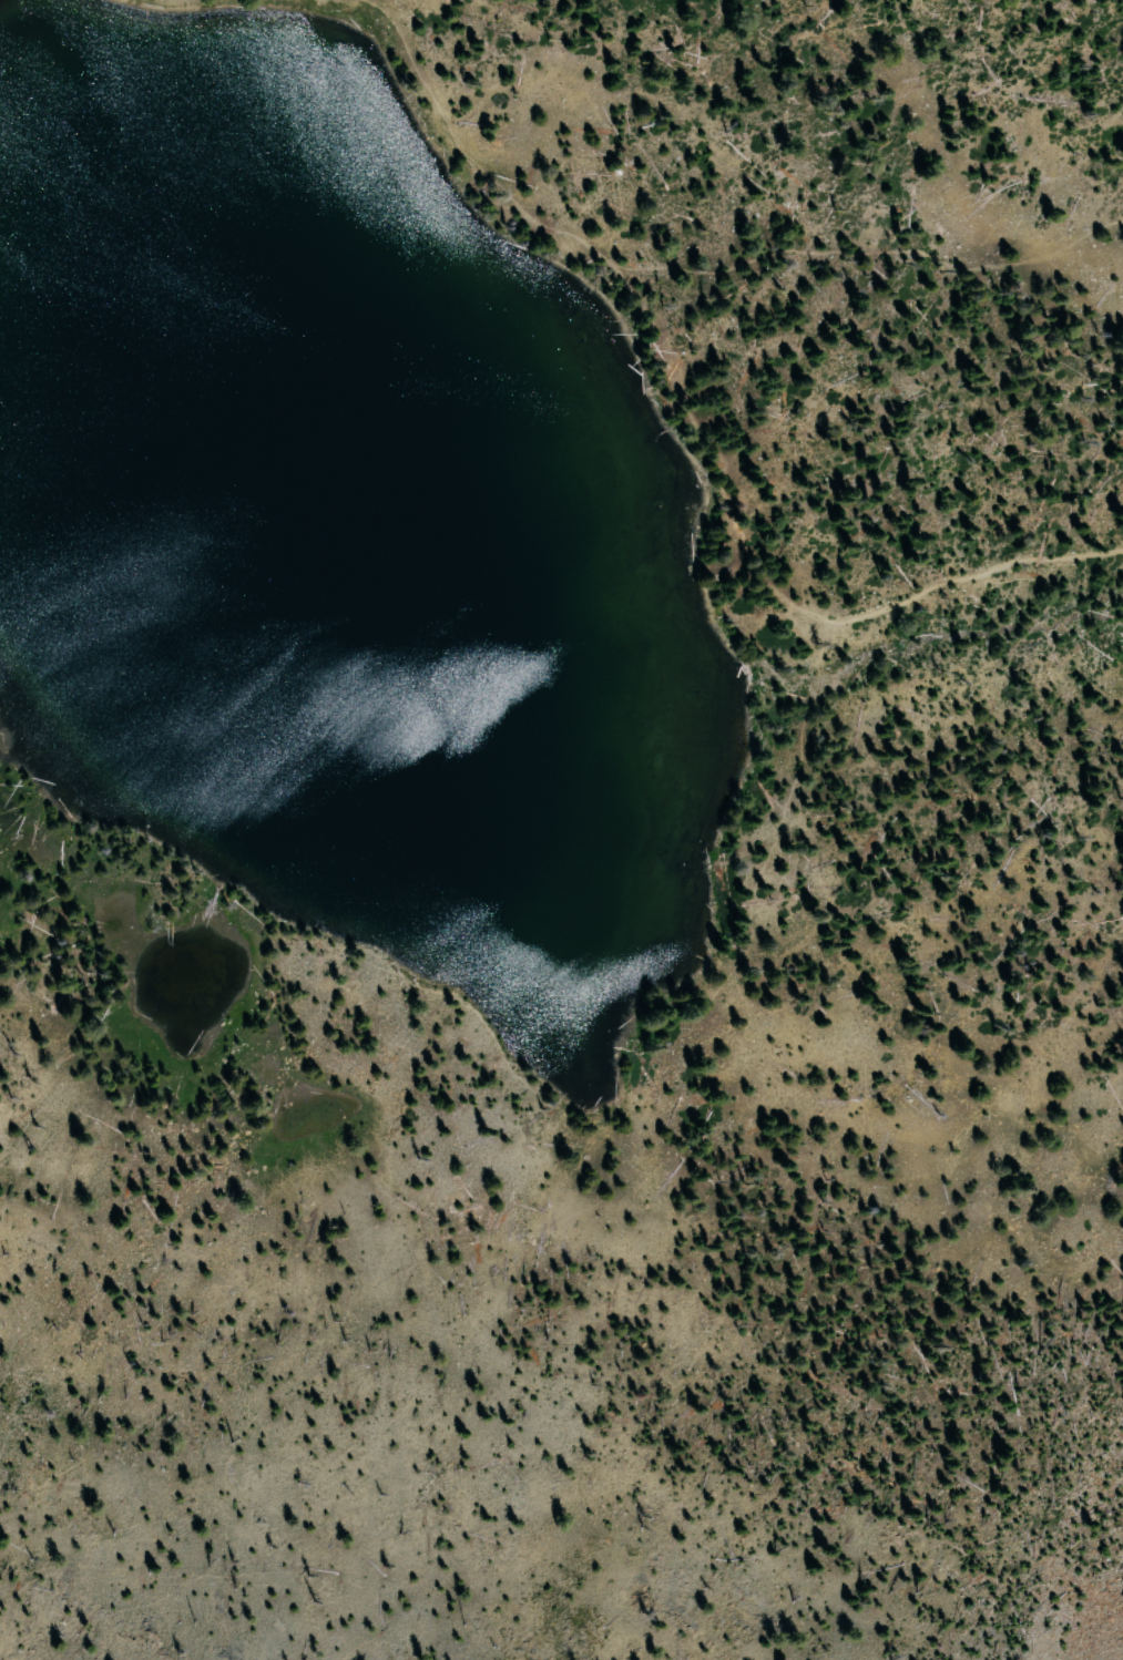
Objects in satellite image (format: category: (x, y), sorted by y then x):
road: (870, 262)
road: (680, 291)
road: (994, 567)

